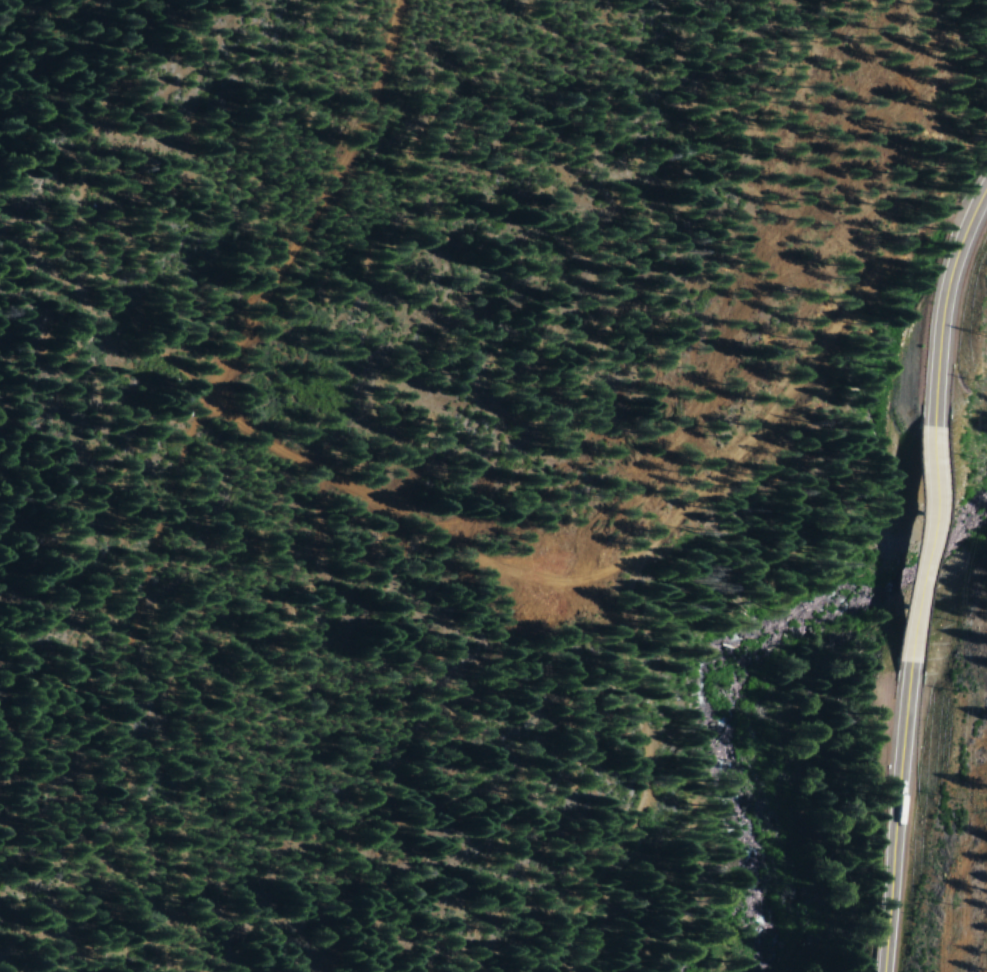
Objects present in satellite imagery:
road: (948, 294)
road: (198, 426)
road: (418, 532)
road: (924, 536)
road: (643, 793)
road: (898, 812)

